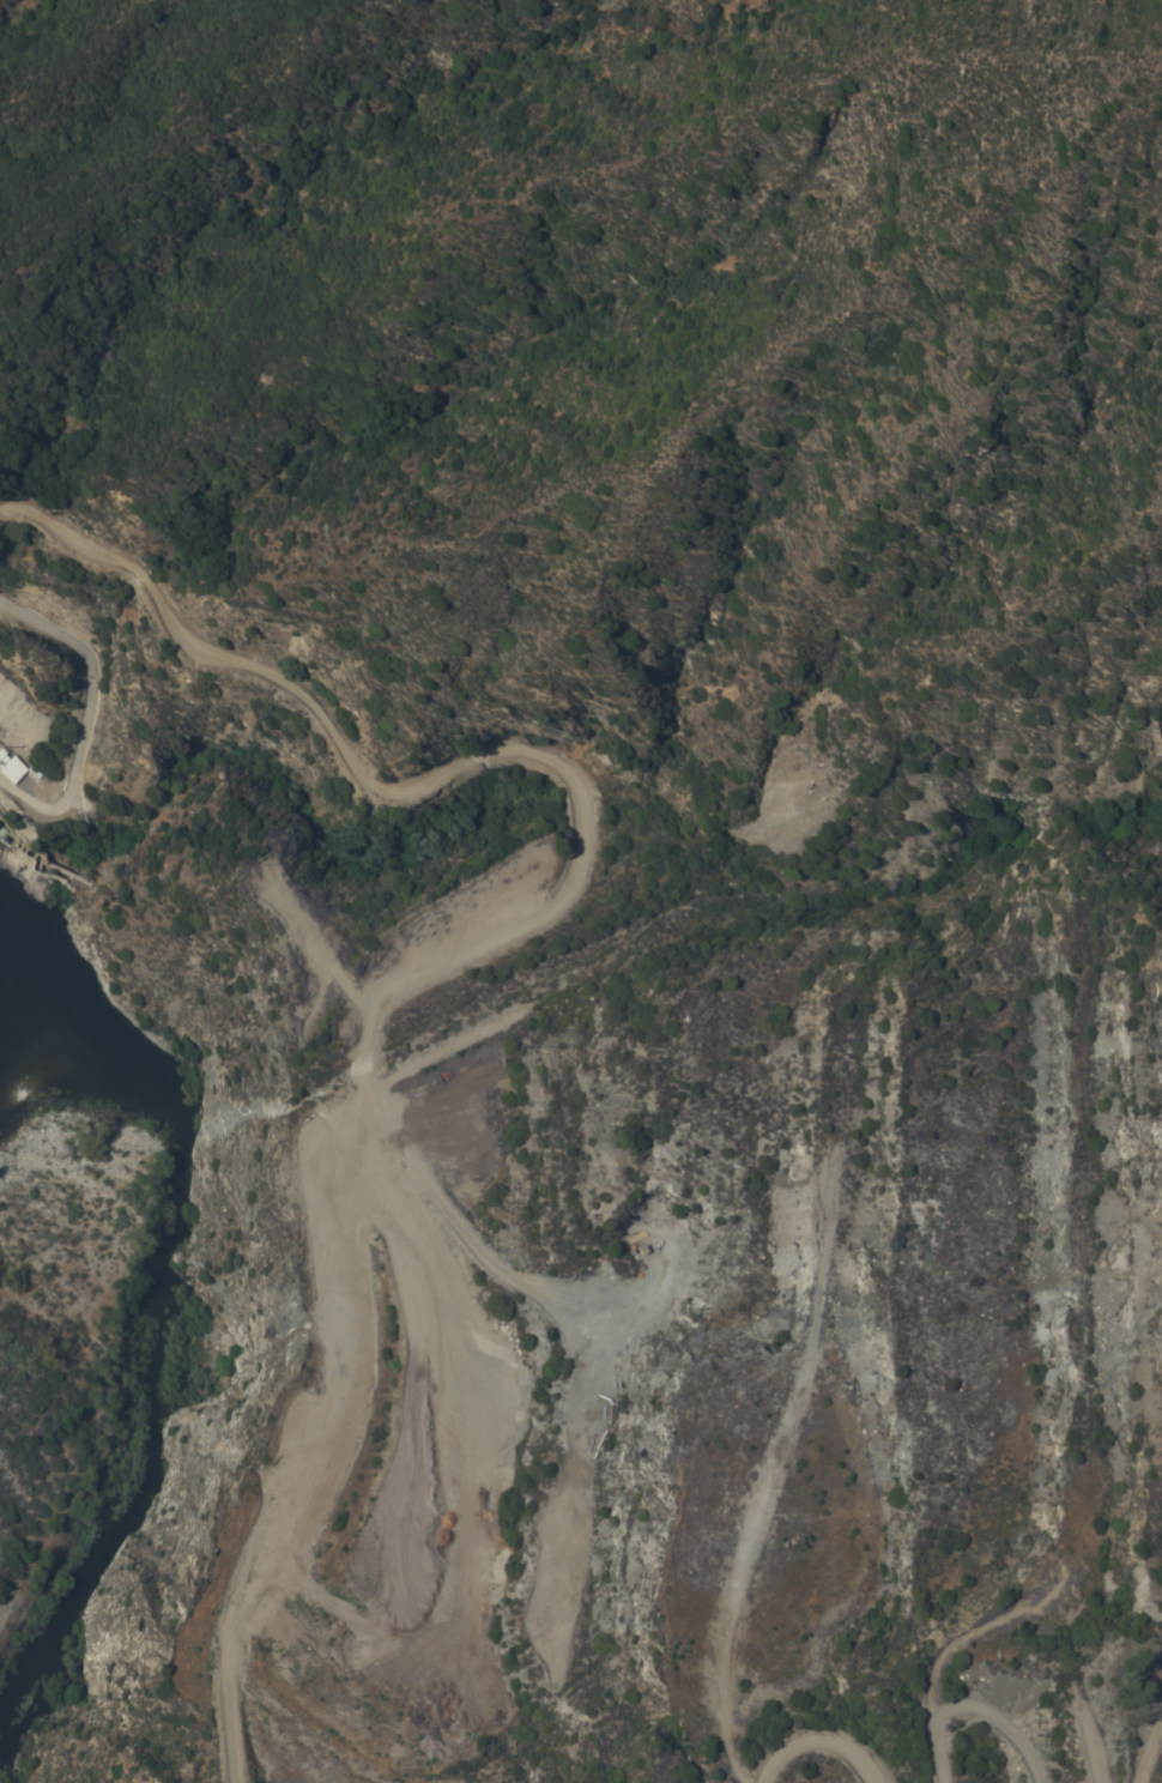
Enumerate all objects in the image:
building: (13, 768)
river: (164, 1178)
river: (48, 1383)
river: (52, 1586)

